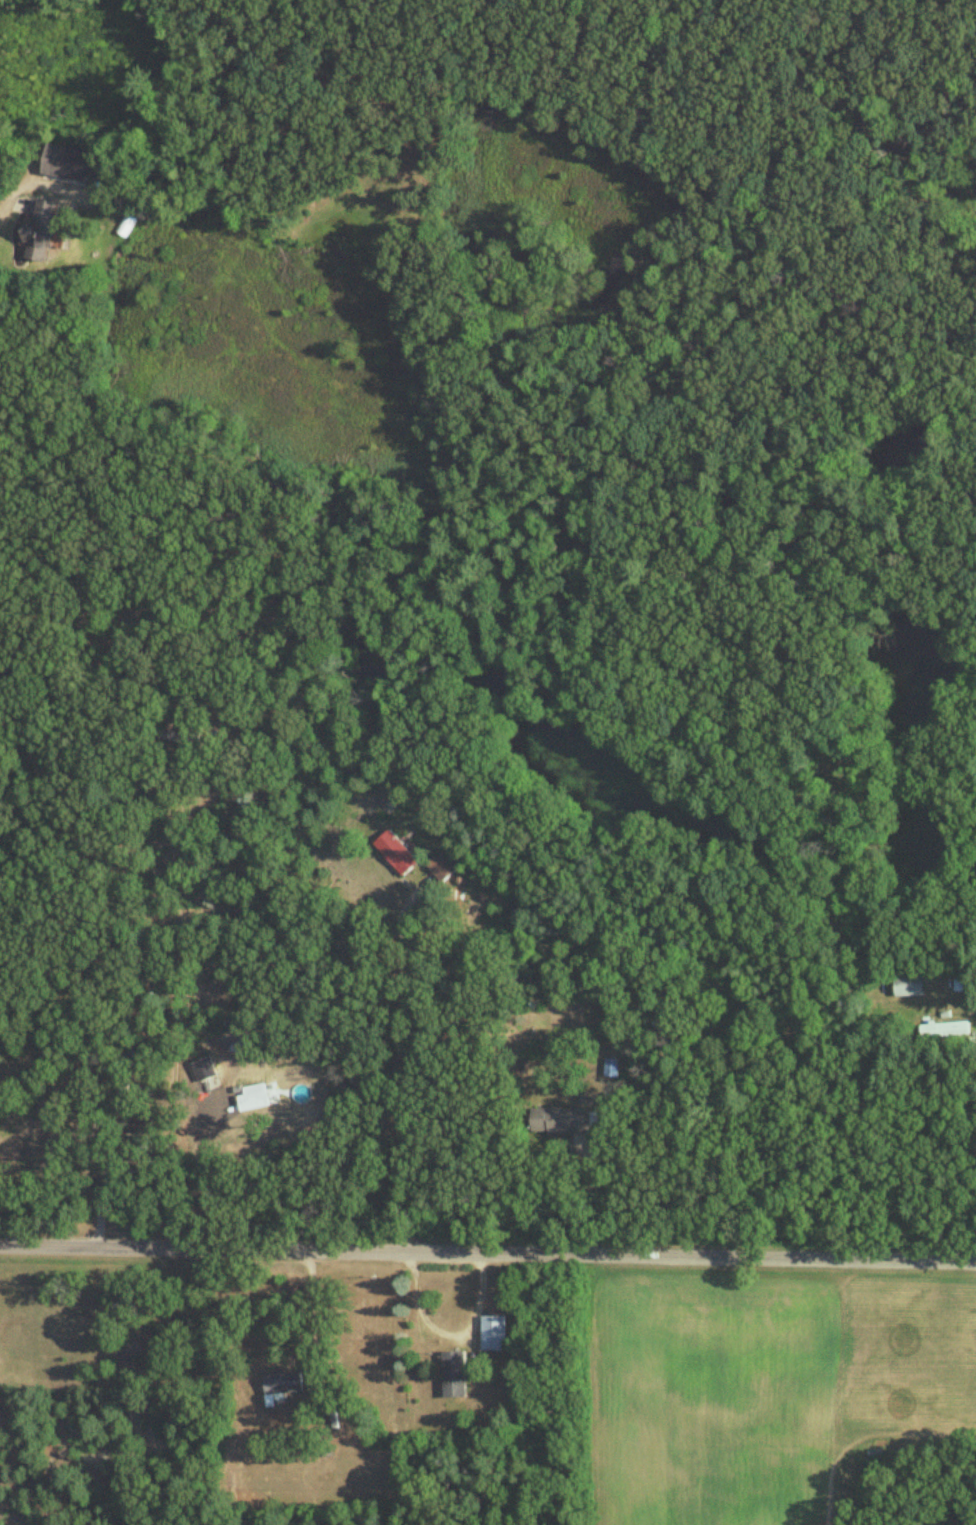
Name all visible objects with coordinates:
building: (66, 164)
road: (3, 208)
building: (42, 232)
building: (183, 738)
building: (397, 853)
building: (442, 867)
building: (910, 986)
building: (946, 1030)
road: (588, 1032)
building: (202, 1071)
building: (128, 1075)
road: (68, 1076)
road: (197, 1089)
building: (261, 1098)
road: (387, 1117)
building: (561, 1121)
road: (488, 1253)
road: (445, 1332)
building: (494, 1334)
building: (455, 1375)
building: (283, 1384)

